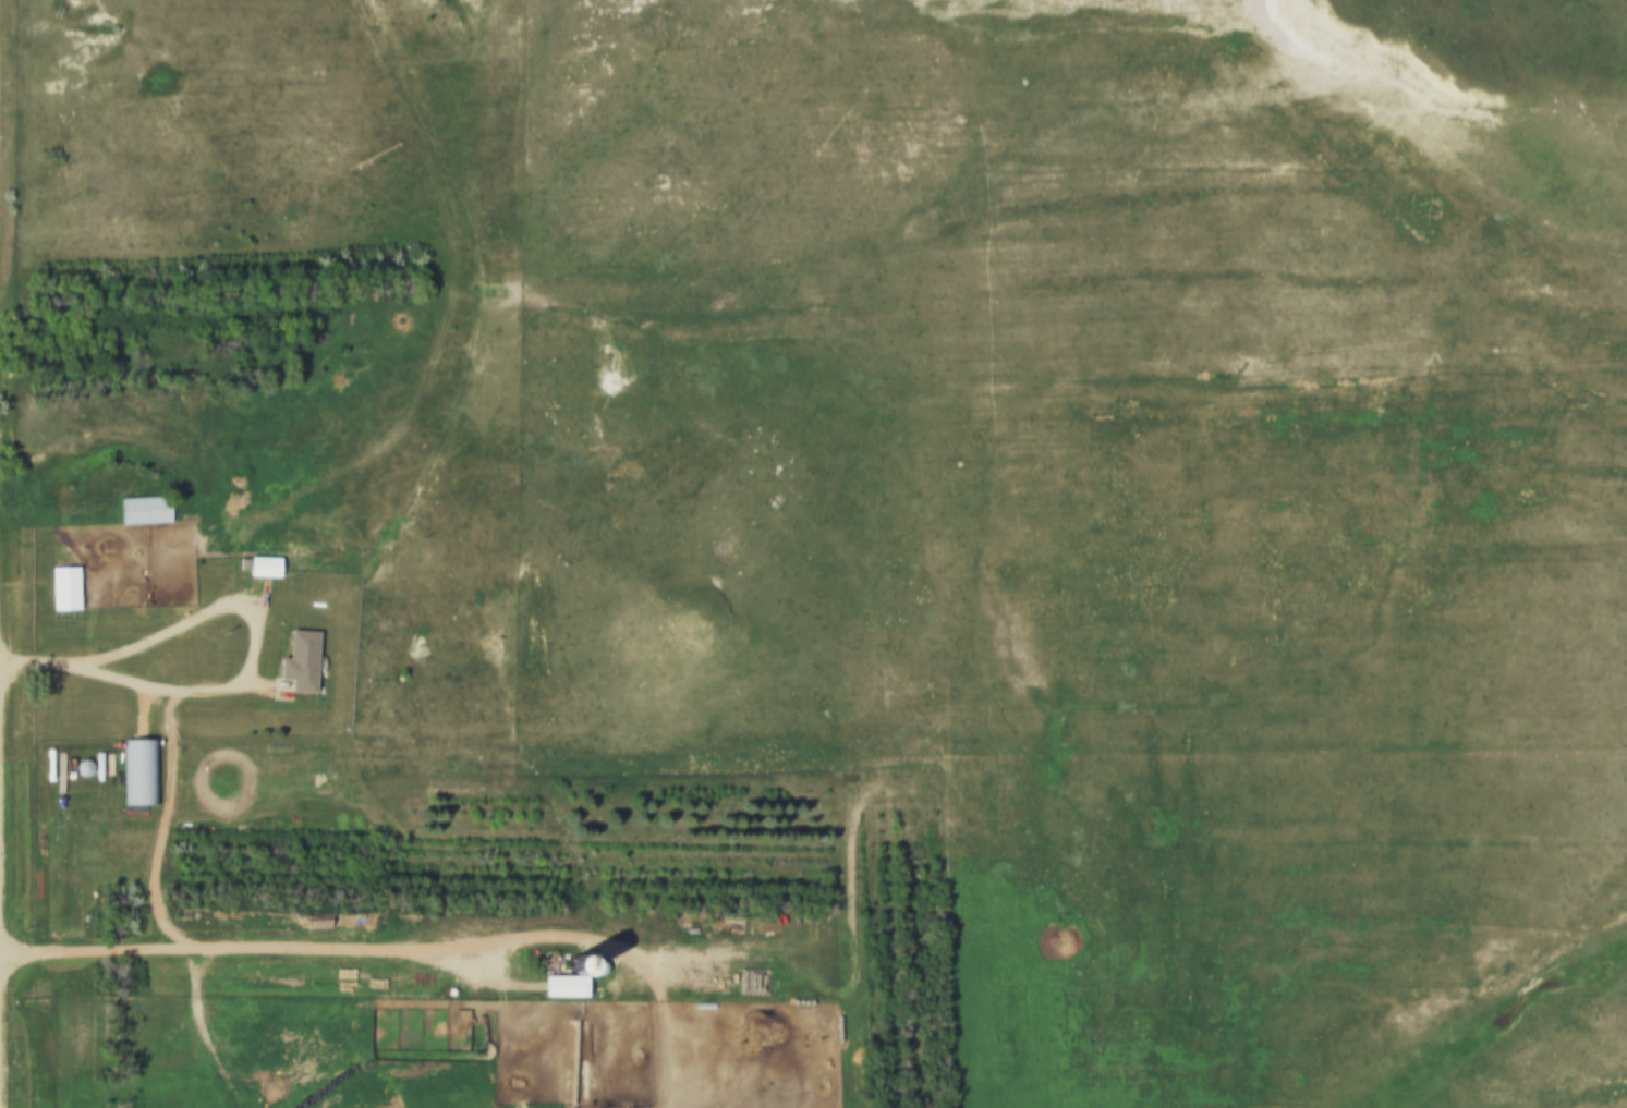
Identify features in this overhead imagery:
building: (139, 510)
building: (259, 567)
building: (60, 587)
road: (252, 644)
building: (296, 660)
road: (44, 665)
building: (137, 770)
road: (392, 953)
building: (557, 985)

